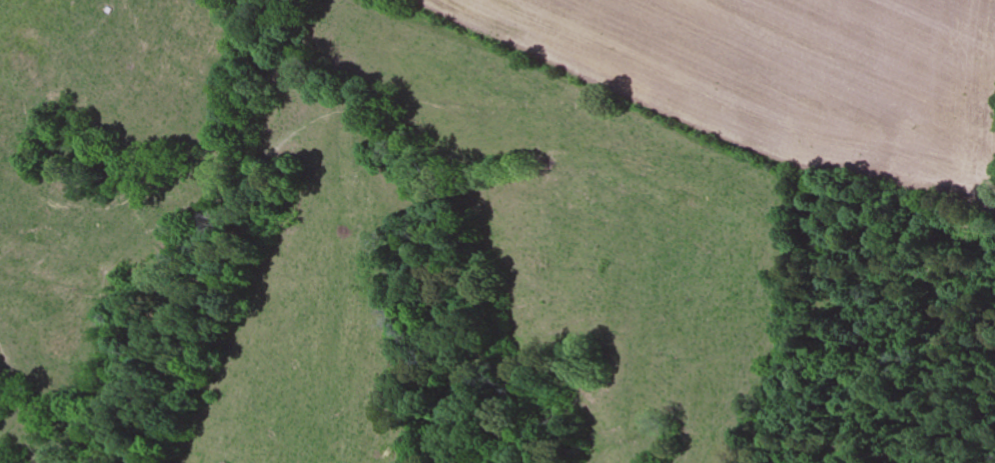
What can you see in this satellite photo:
building: (0, 412)

